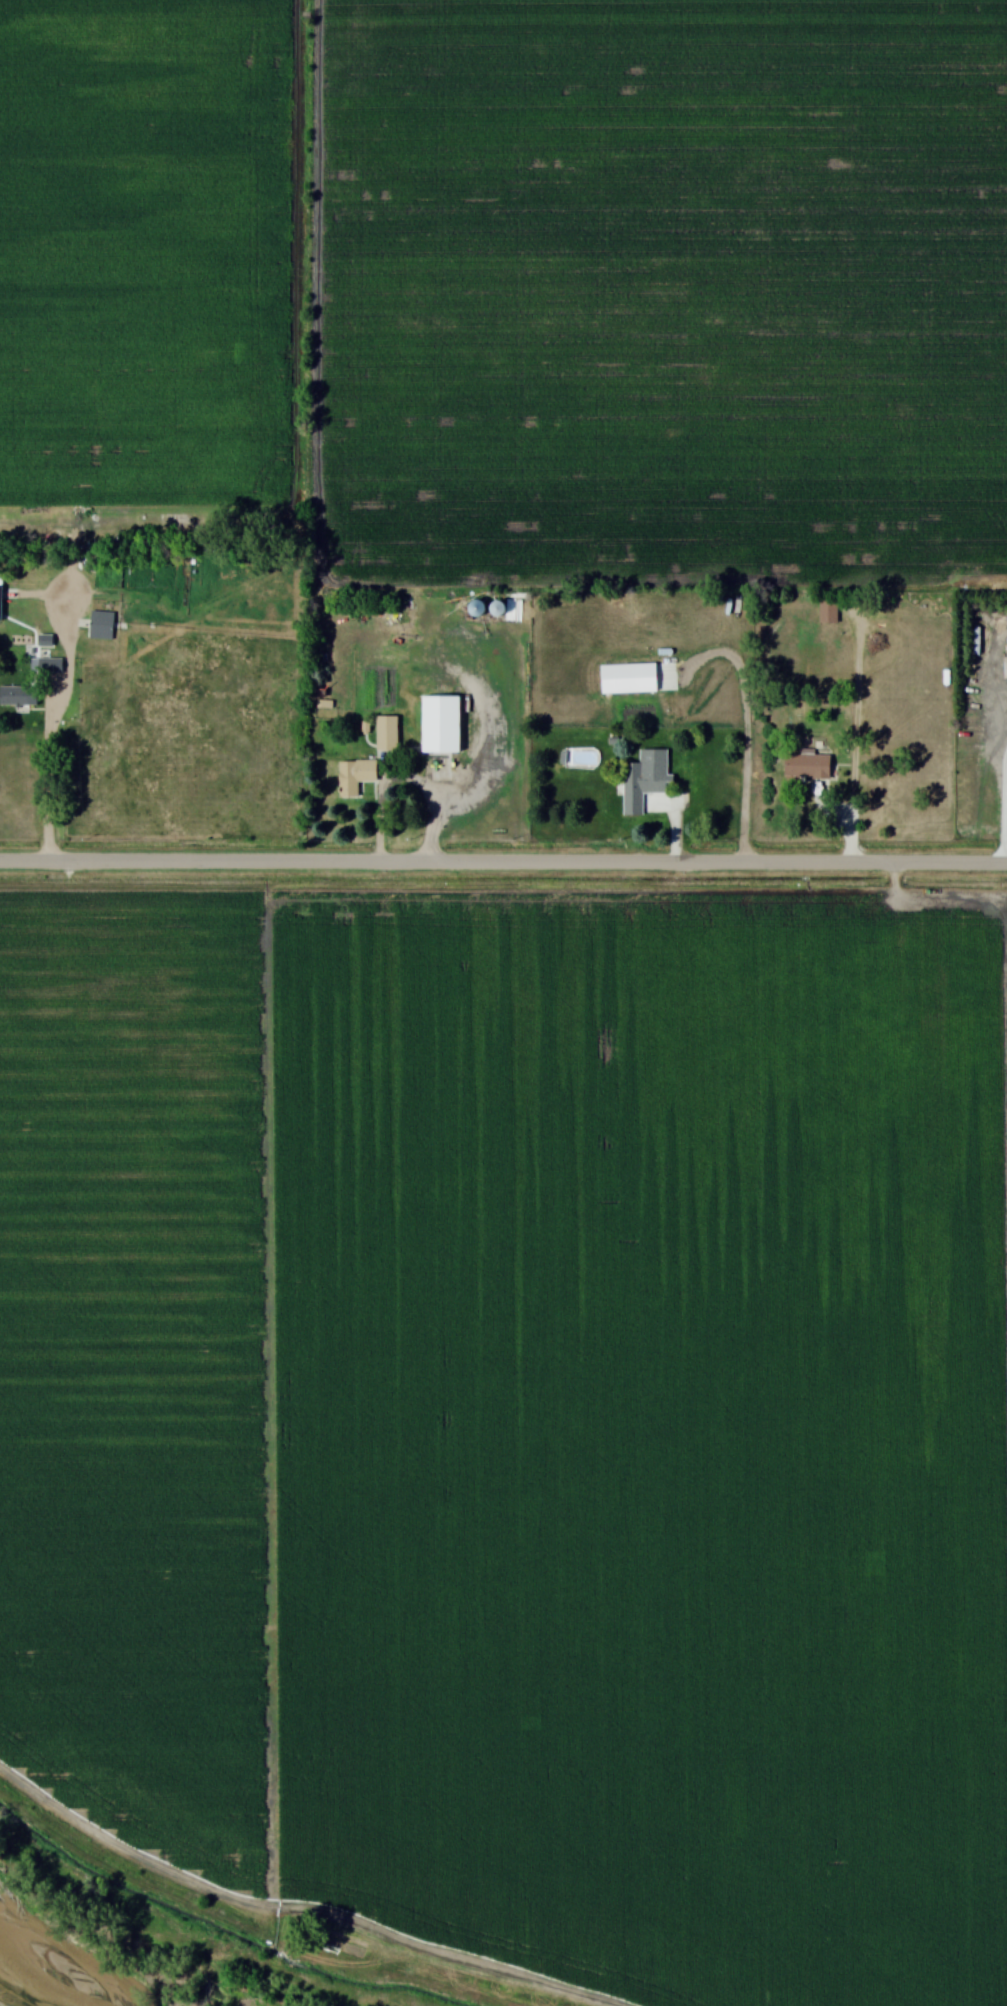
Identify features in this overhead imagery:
crop: (146, 249)
crop: (670, 283)
building: (479, 609)
building: (829, 612)
building: (102, 626)
building: (50, 665)
building: (15, 695)
building: (443, 725)
building: (388, 733)
building: (808, 765)
road: (49, 771)
building: (356, 777)
building: (646, 779)
road: (401, 780)
road: (503, 864)
crop: (133, 1364)
crop: (650, 1439)
river: (26, 1985)

